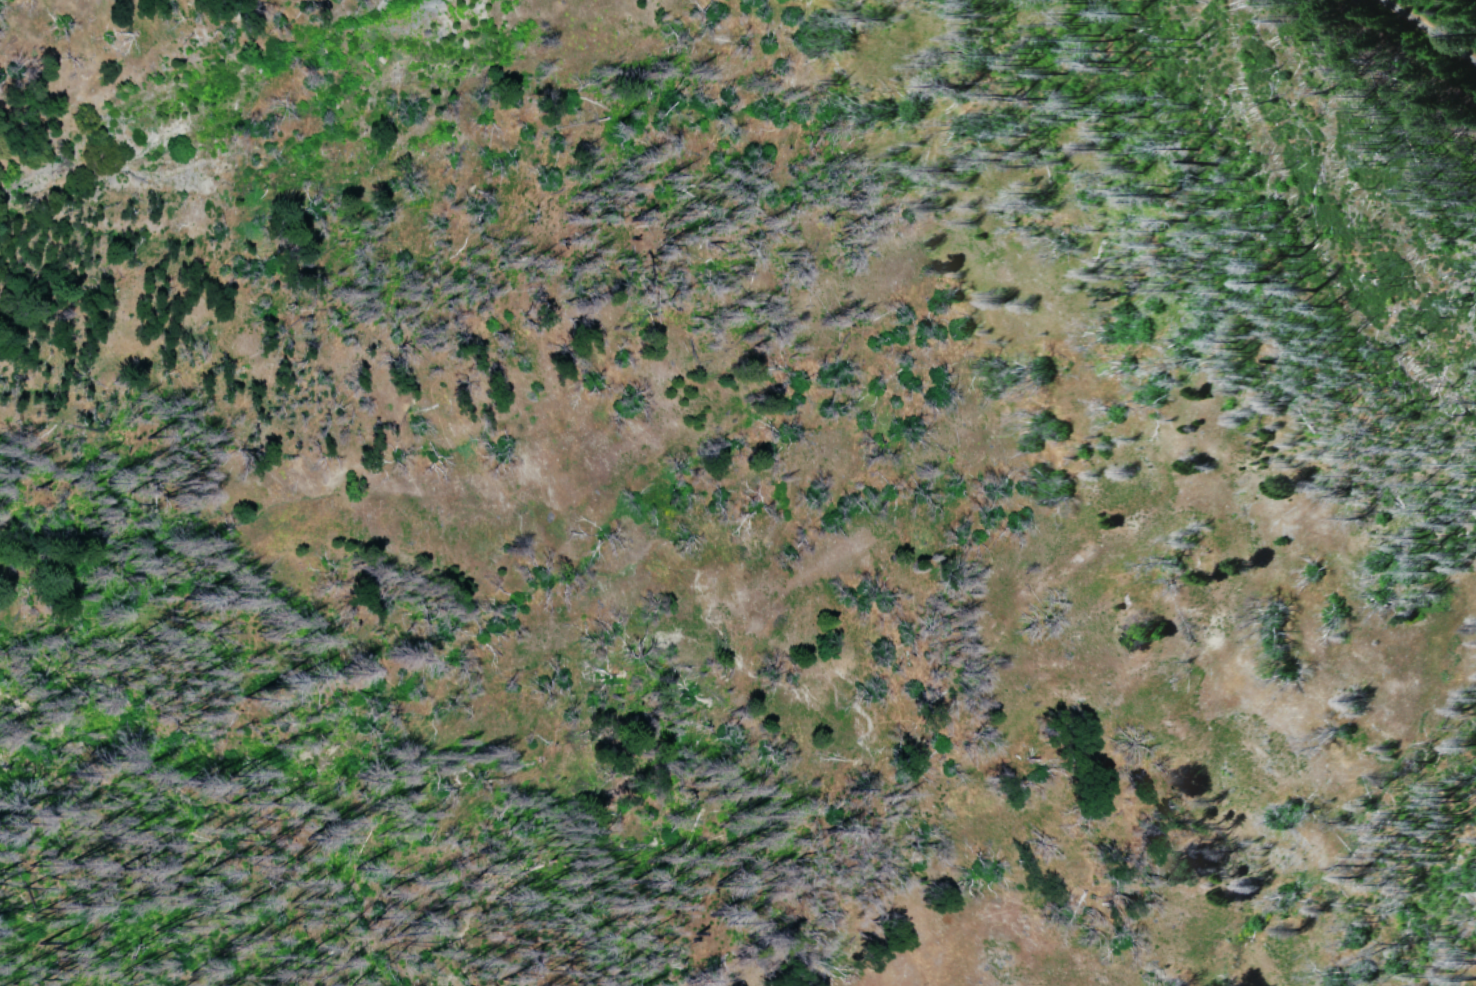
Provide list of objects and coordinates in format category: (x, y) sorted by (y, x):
road: (1409, 56)

